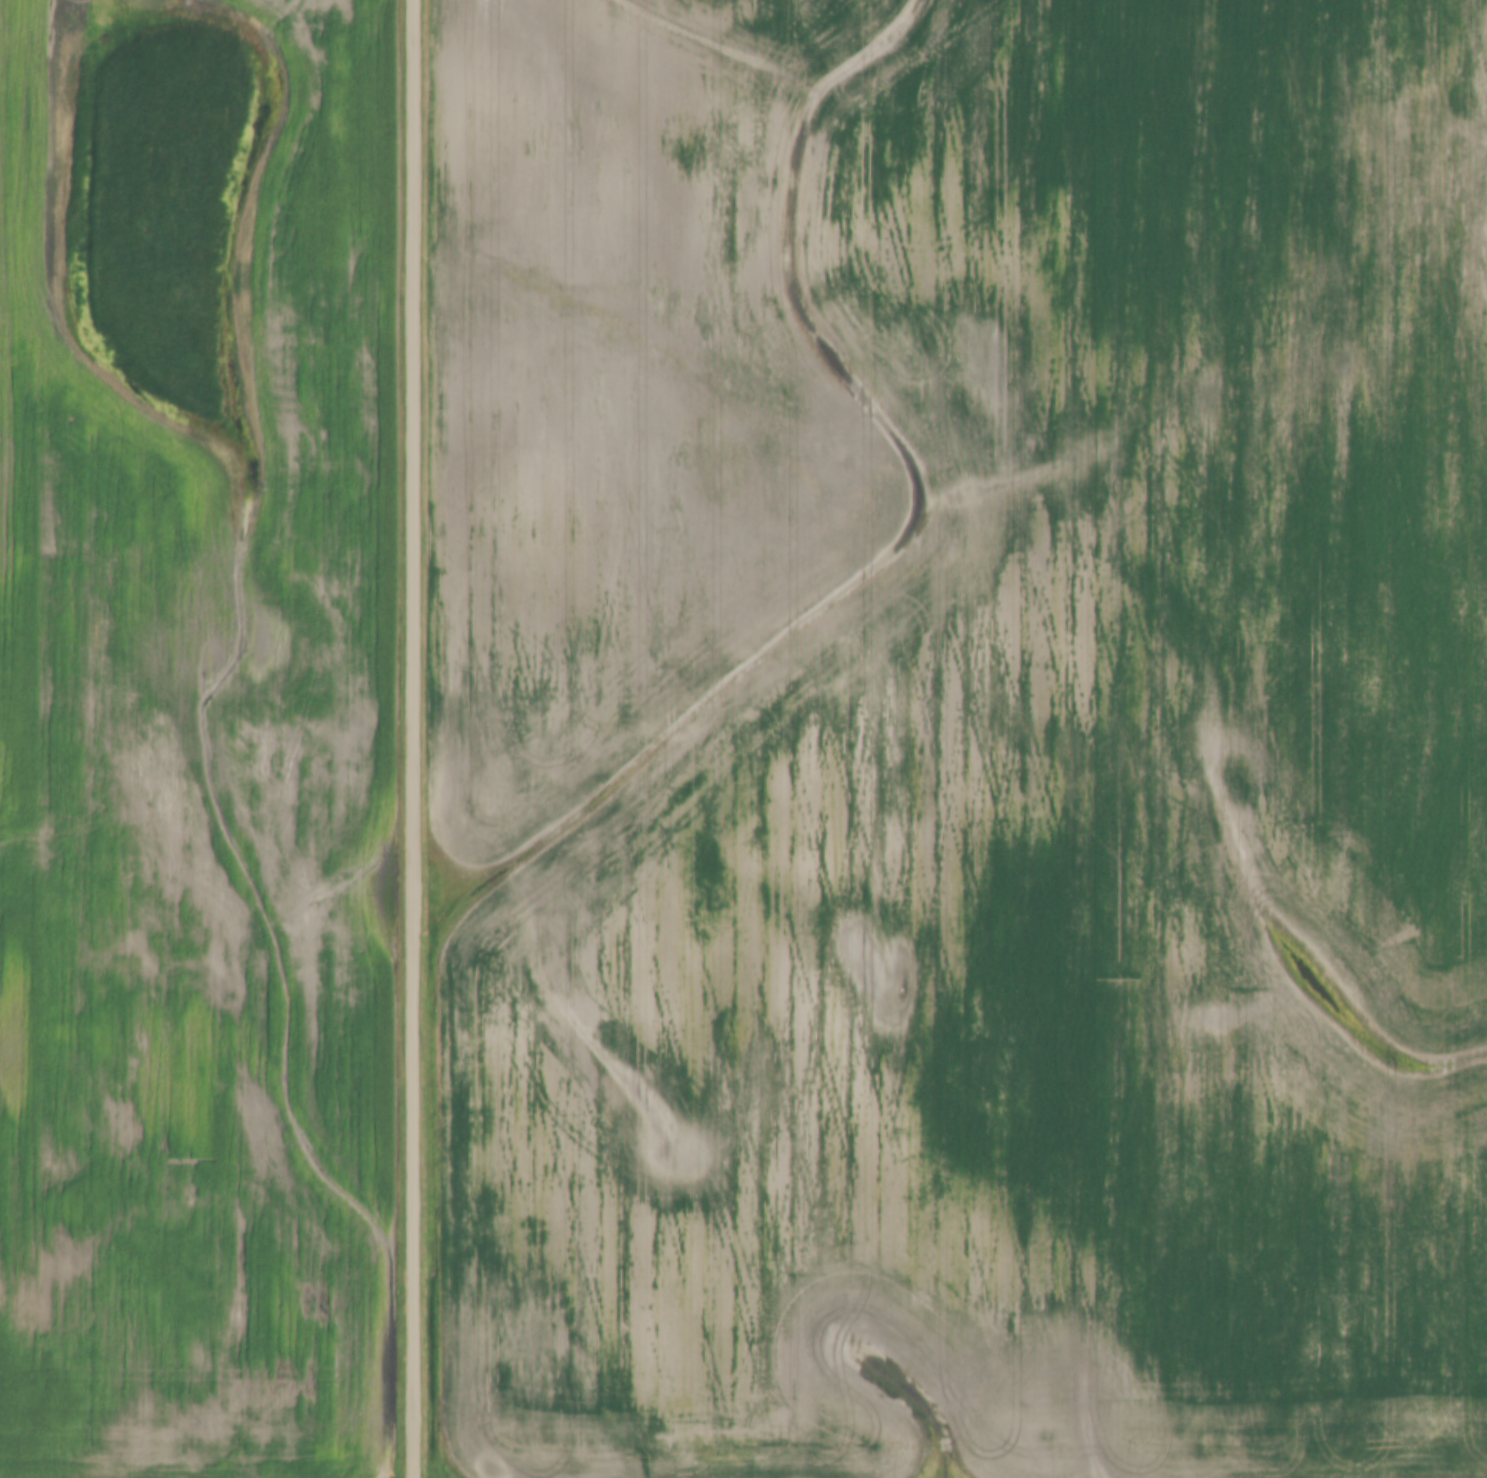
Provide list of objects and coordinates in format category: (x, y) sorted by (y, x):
road: (414, 739)

